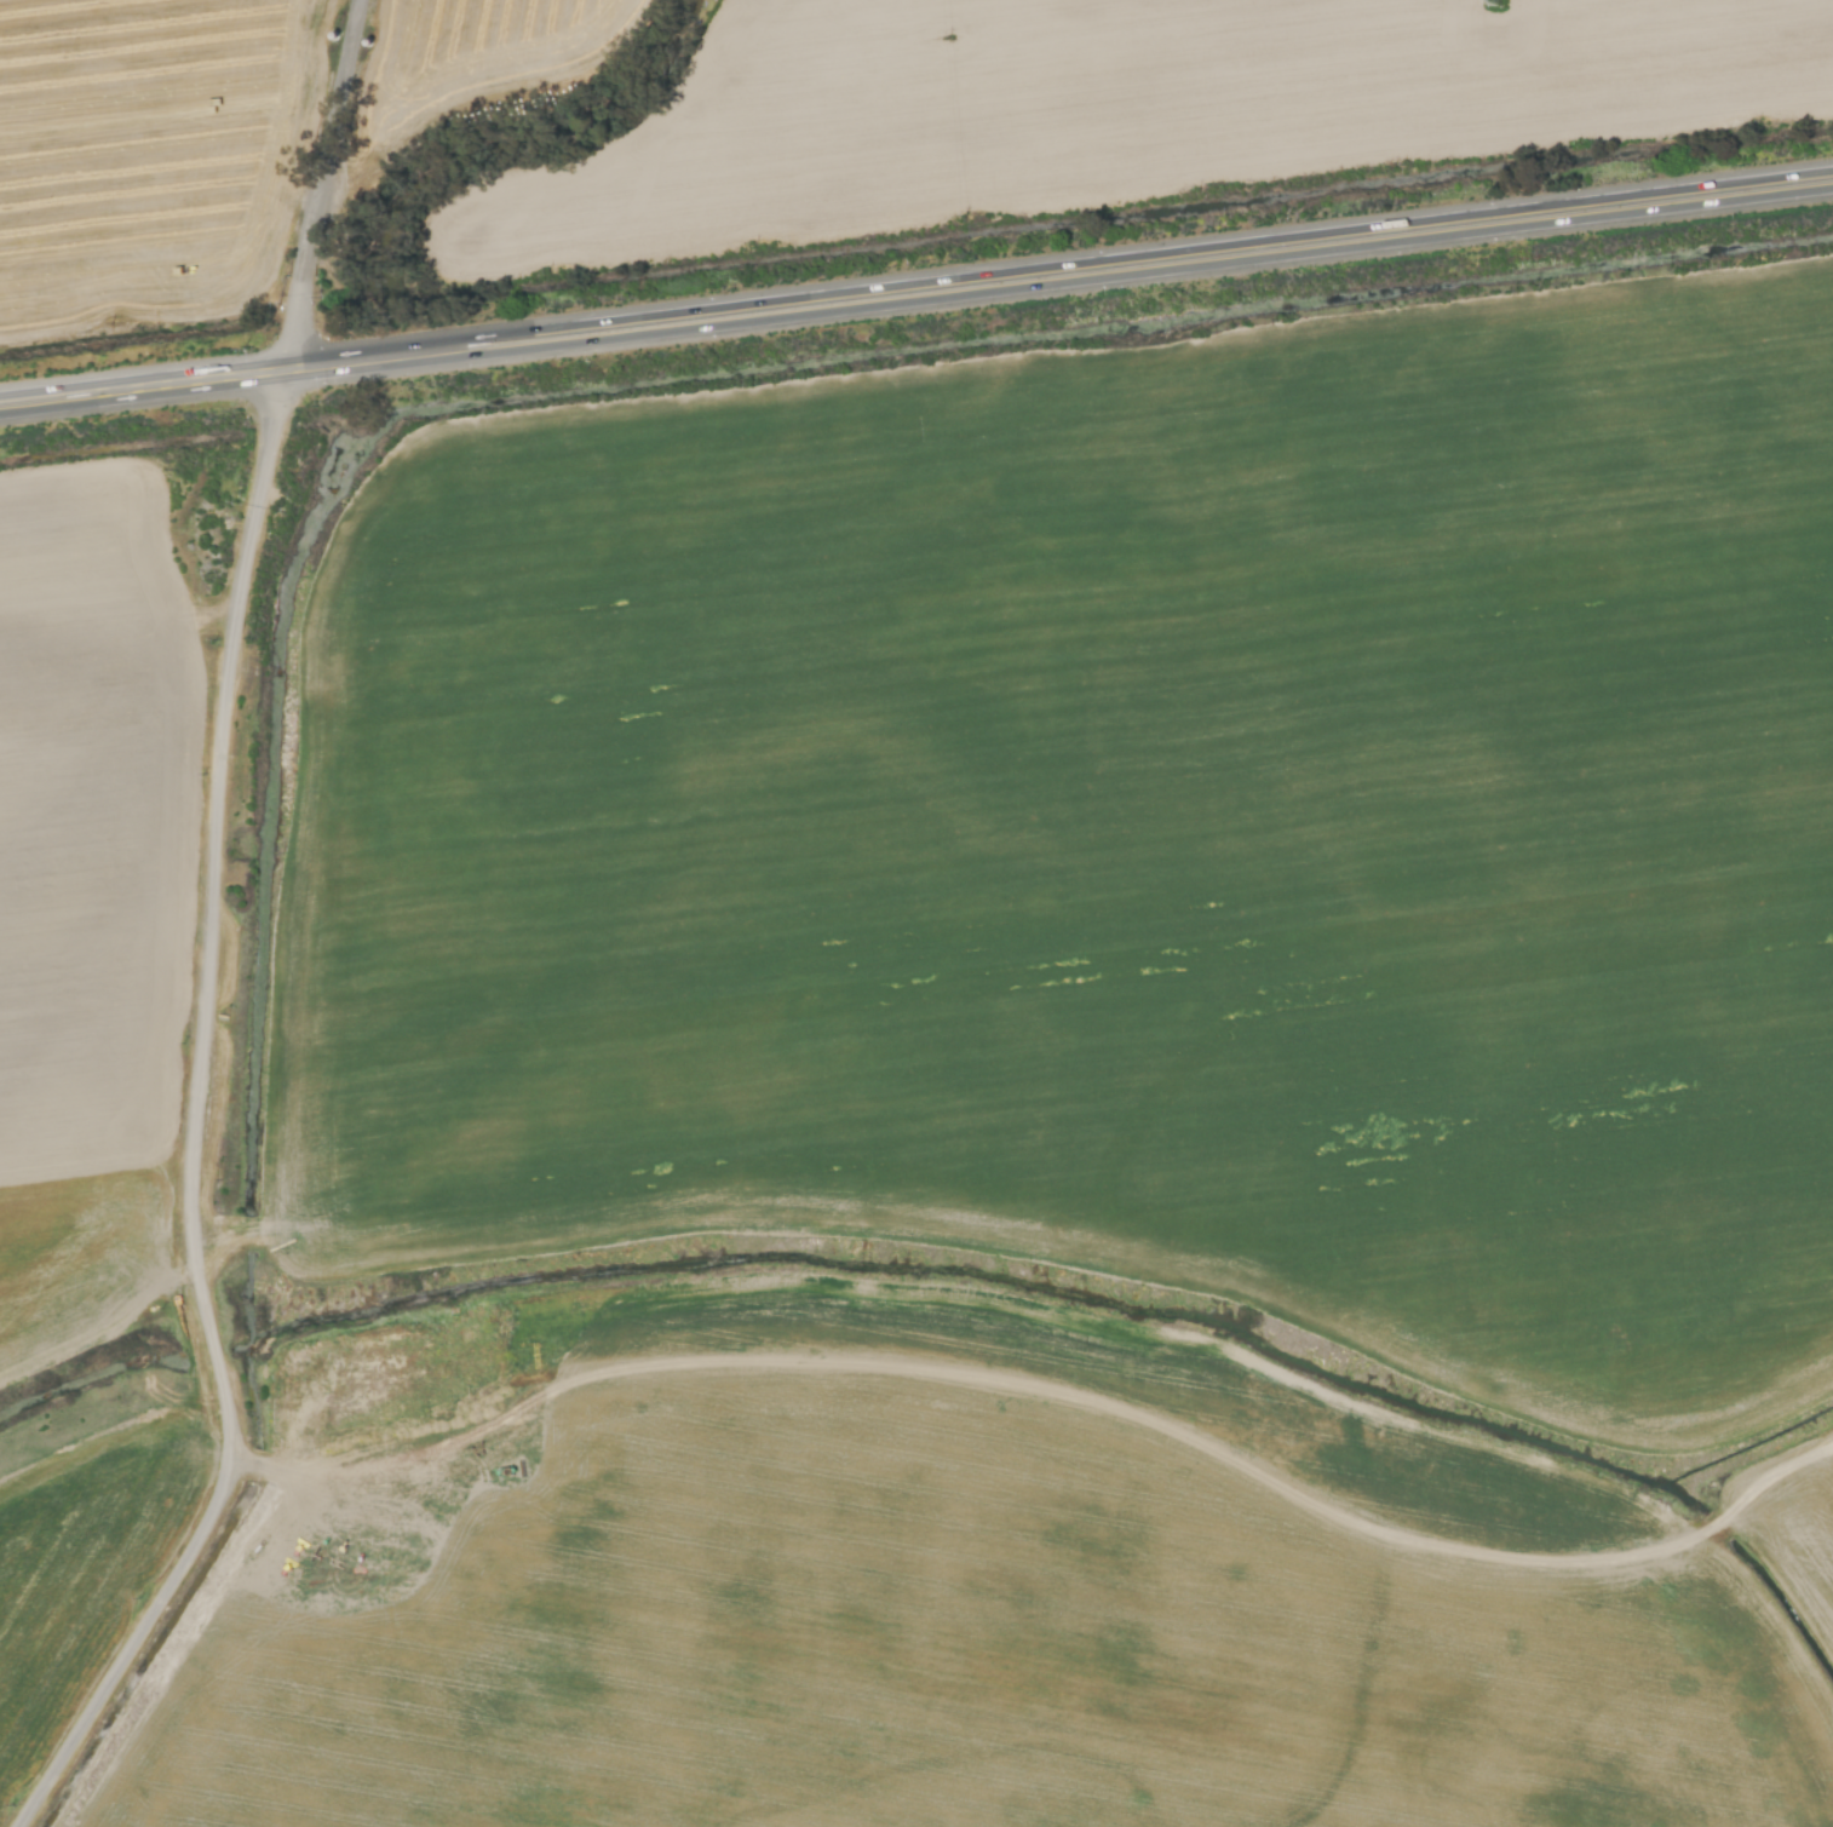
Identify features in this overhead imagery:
power tower: (1490, 8)
road: (339, 84)
road: (310, 226)
road: (915, 288)
road: (915, 306)
road: (199, 1081)

